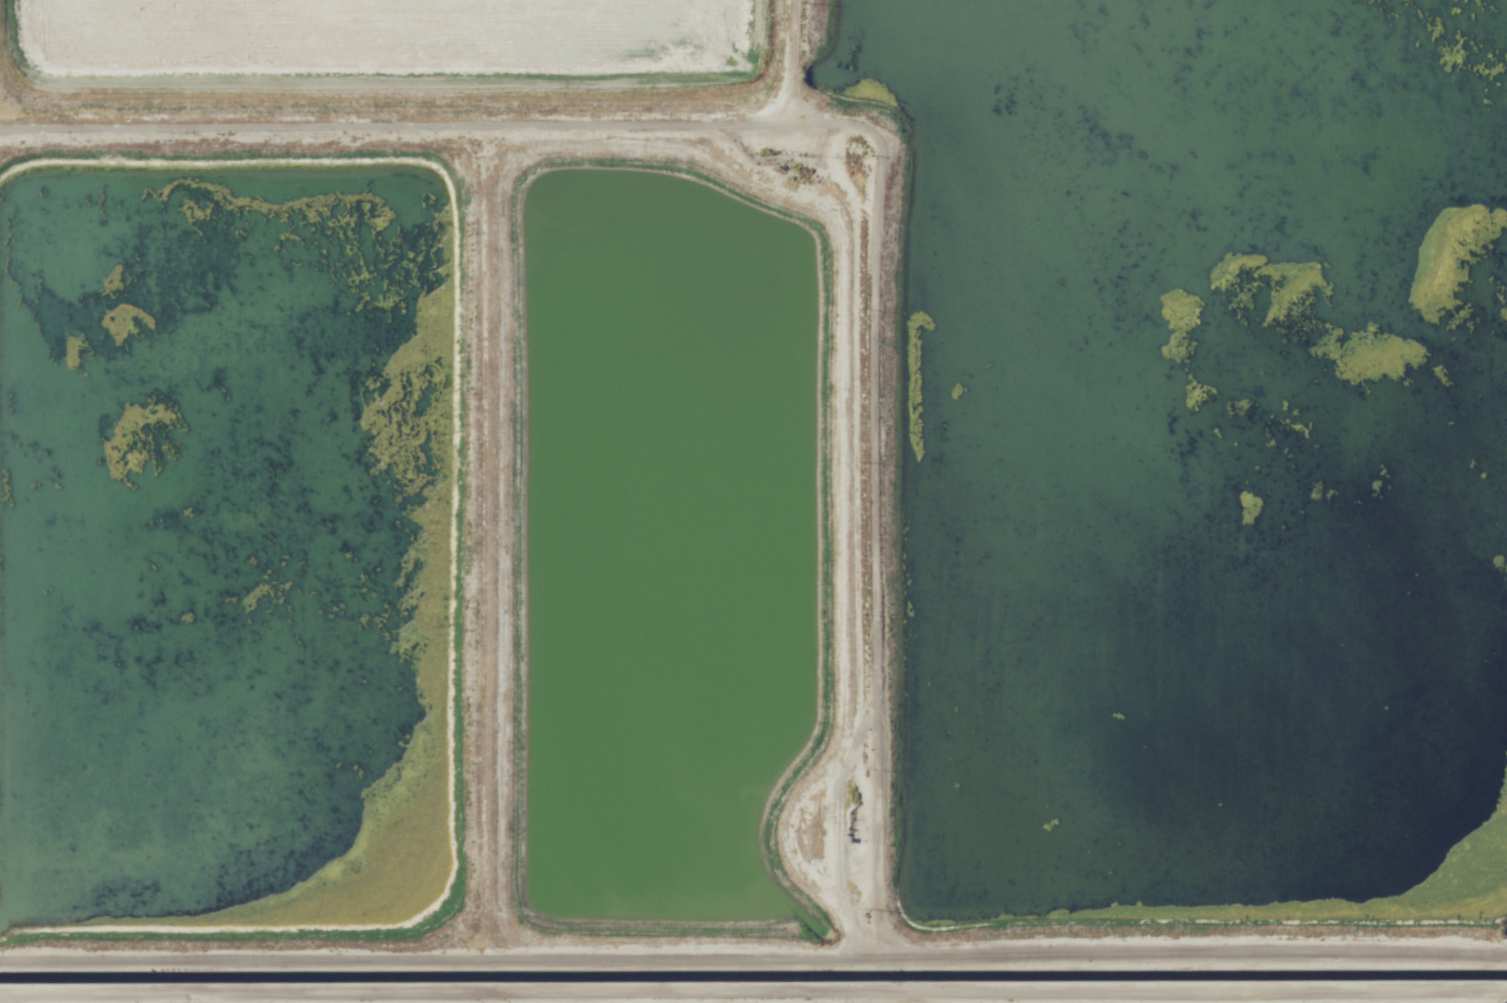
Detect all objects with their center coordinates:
wastewater plant: (364, 34)
road: (796, 59)
road: (752, 119)
road: (242, 128)
wastewater plant: (1207, 446)
wastewater plant: (753, 501)
wastewater plant: (231, 532)
wastewater plant: (673, 535)
road: (680, 952)
road: (436, 988)
road: (1185, 991)

